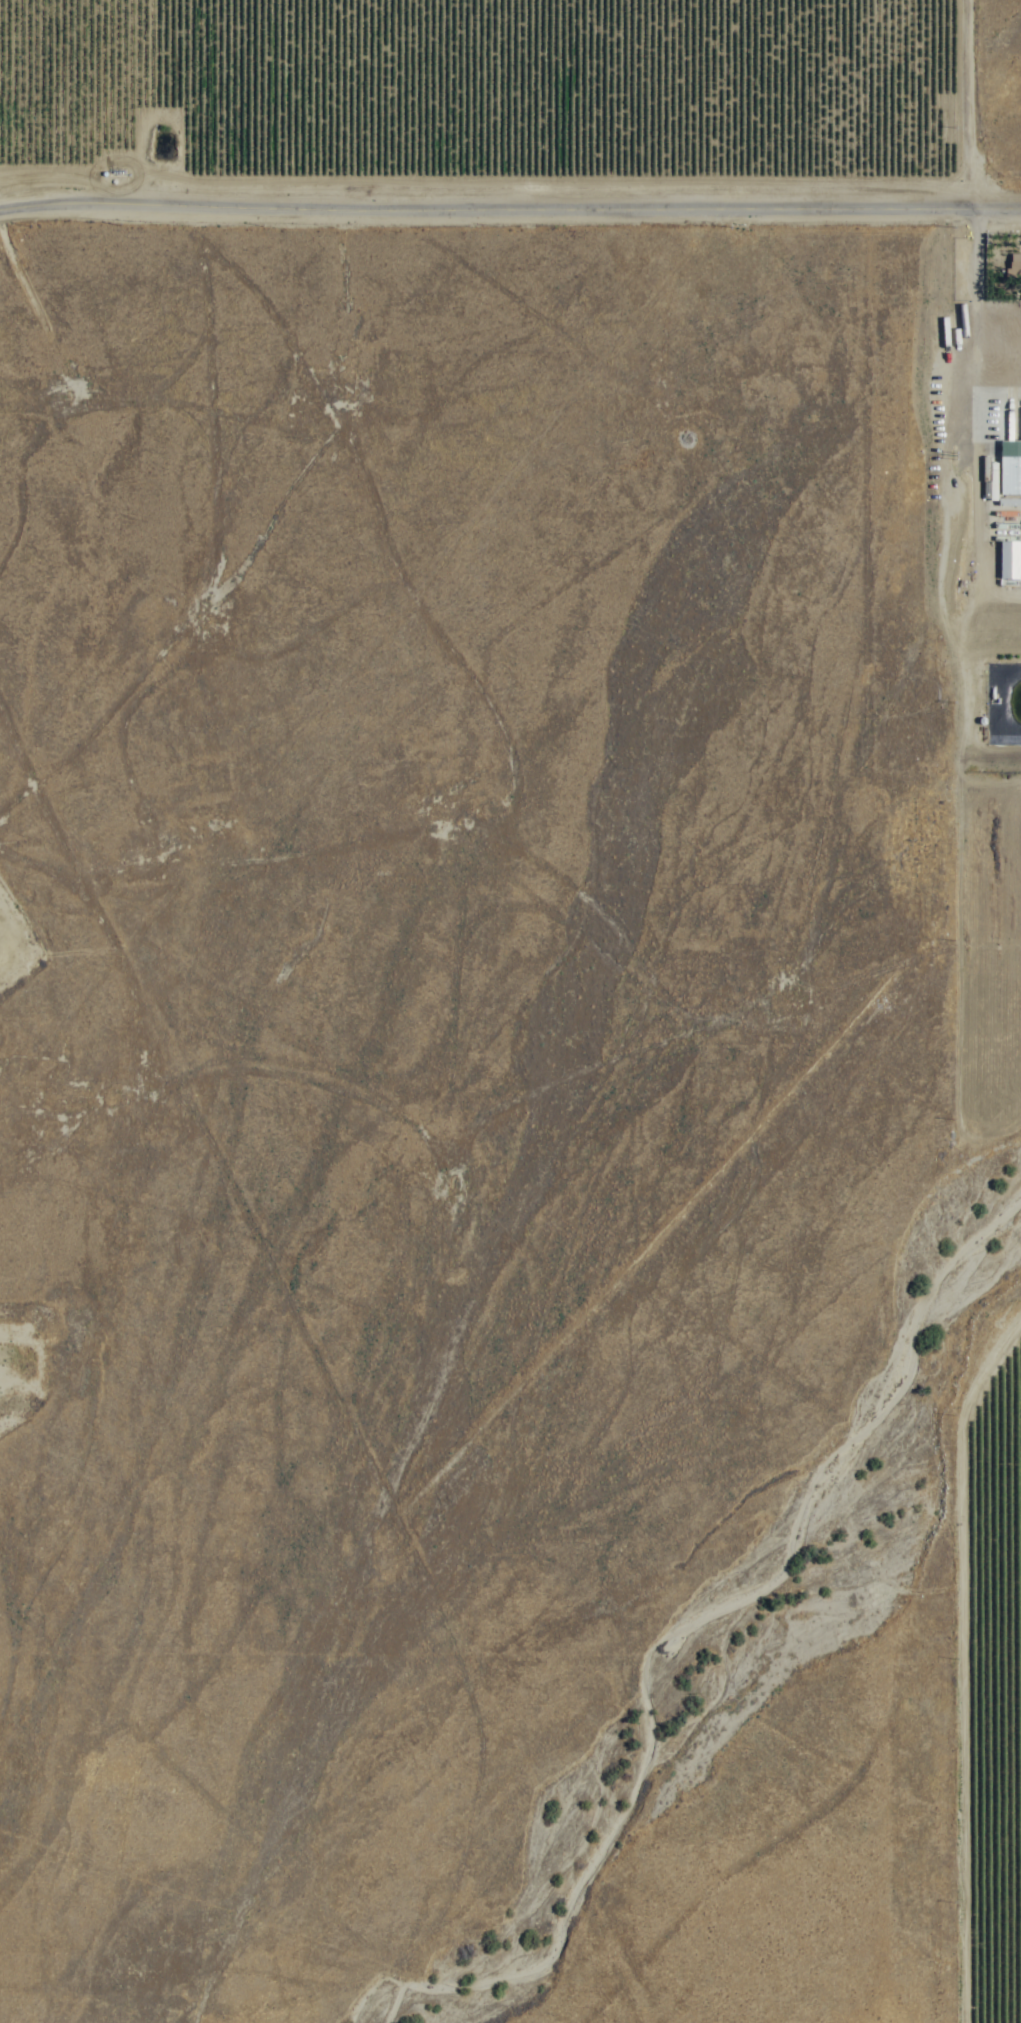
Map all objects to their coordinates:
crop: (475, 81)
road: (7, 205)
road: (510, 210)
building: (1013, 266)
road: (973, 354)
building: (1009, 469)
building: (1008, 561)
wastewater plant: (1007, 721)
road: (927, 1633)
crop: (991, 1676)

